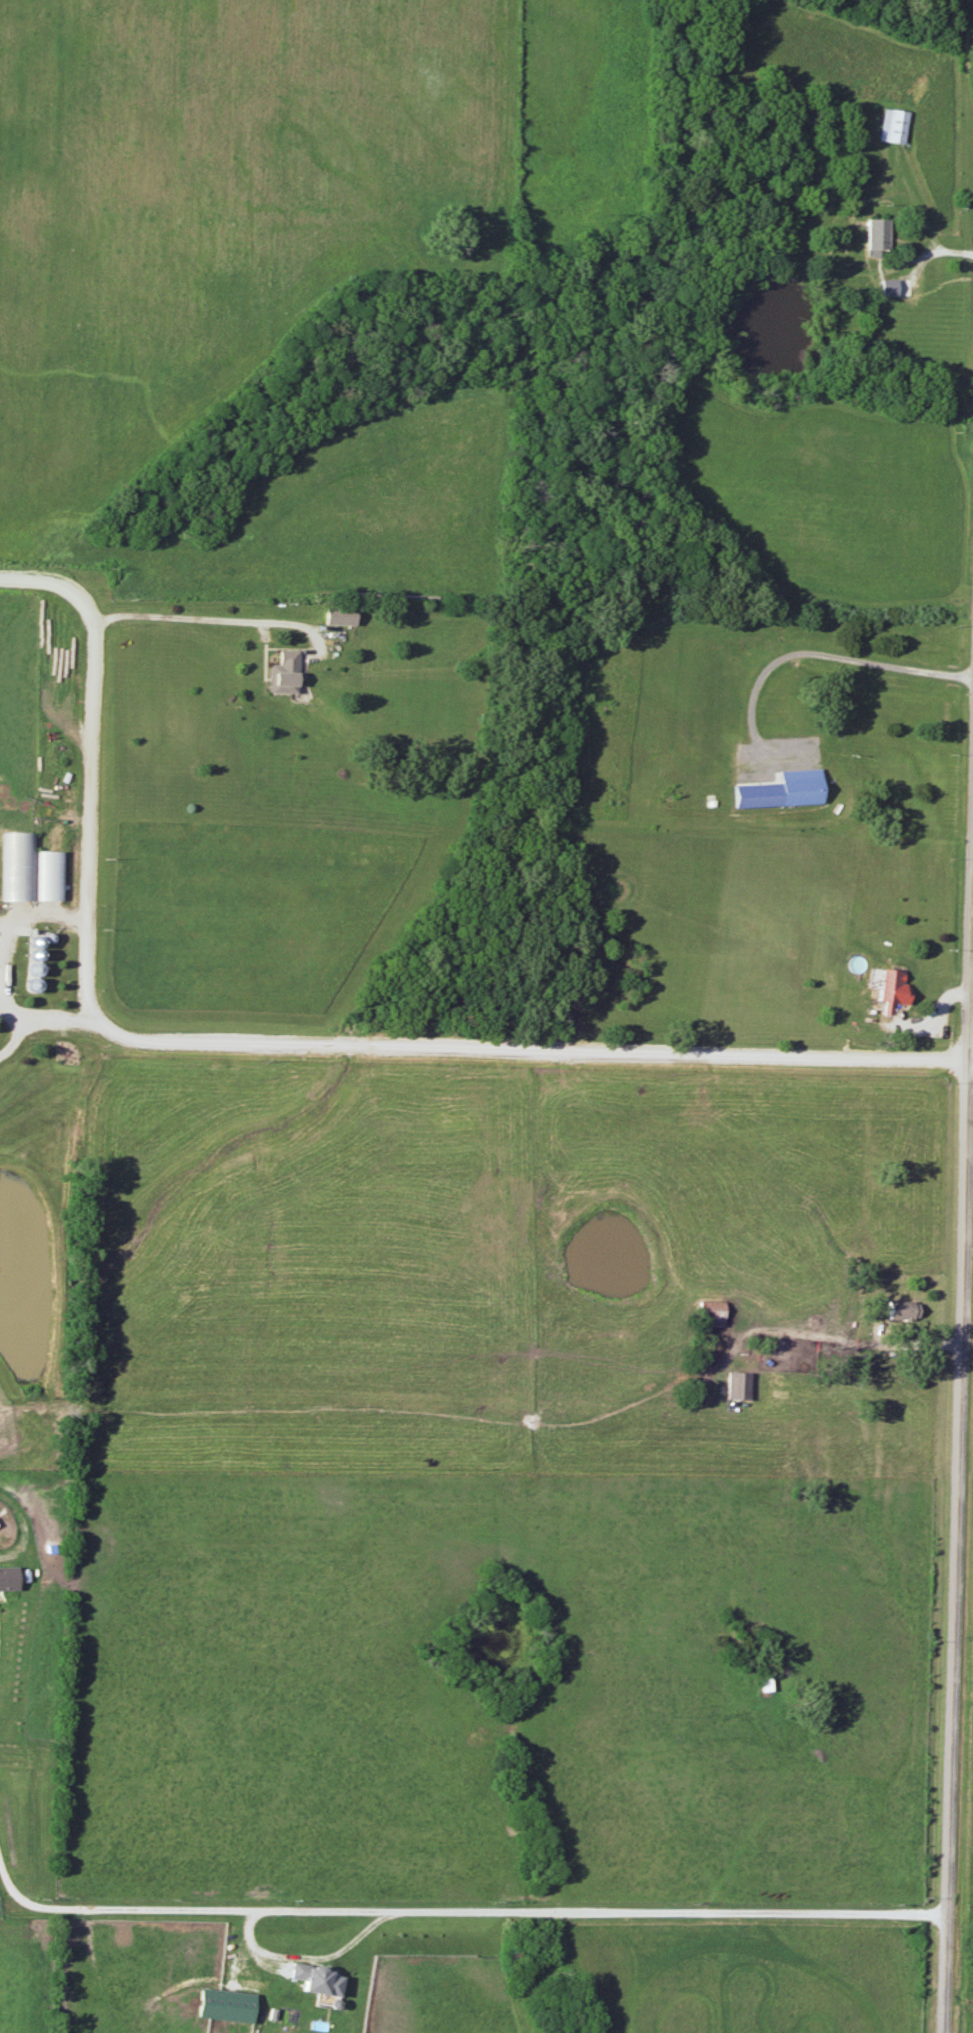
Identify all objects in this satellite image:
building: (892, 127)
building: (876, 236)
road: (823, 246)
road: (953, 253)
building: (338, 617)
road: (190, 619)
road: (811, 652)
building: (283, 674)
building: (782, 790)
building: (18, 866)
road: (46, 913)
building: (892, 989)
road: (47, 1019)
road: (277, 1046)
building: (900, 1310)
building: (709, 1313)
road: (858, 1346)
building: (737, 1386)
road: (959, 1445)
building: (7, 1579)
road: (462, 1909)
road: (305, 1957)
building: (317, 1980)

